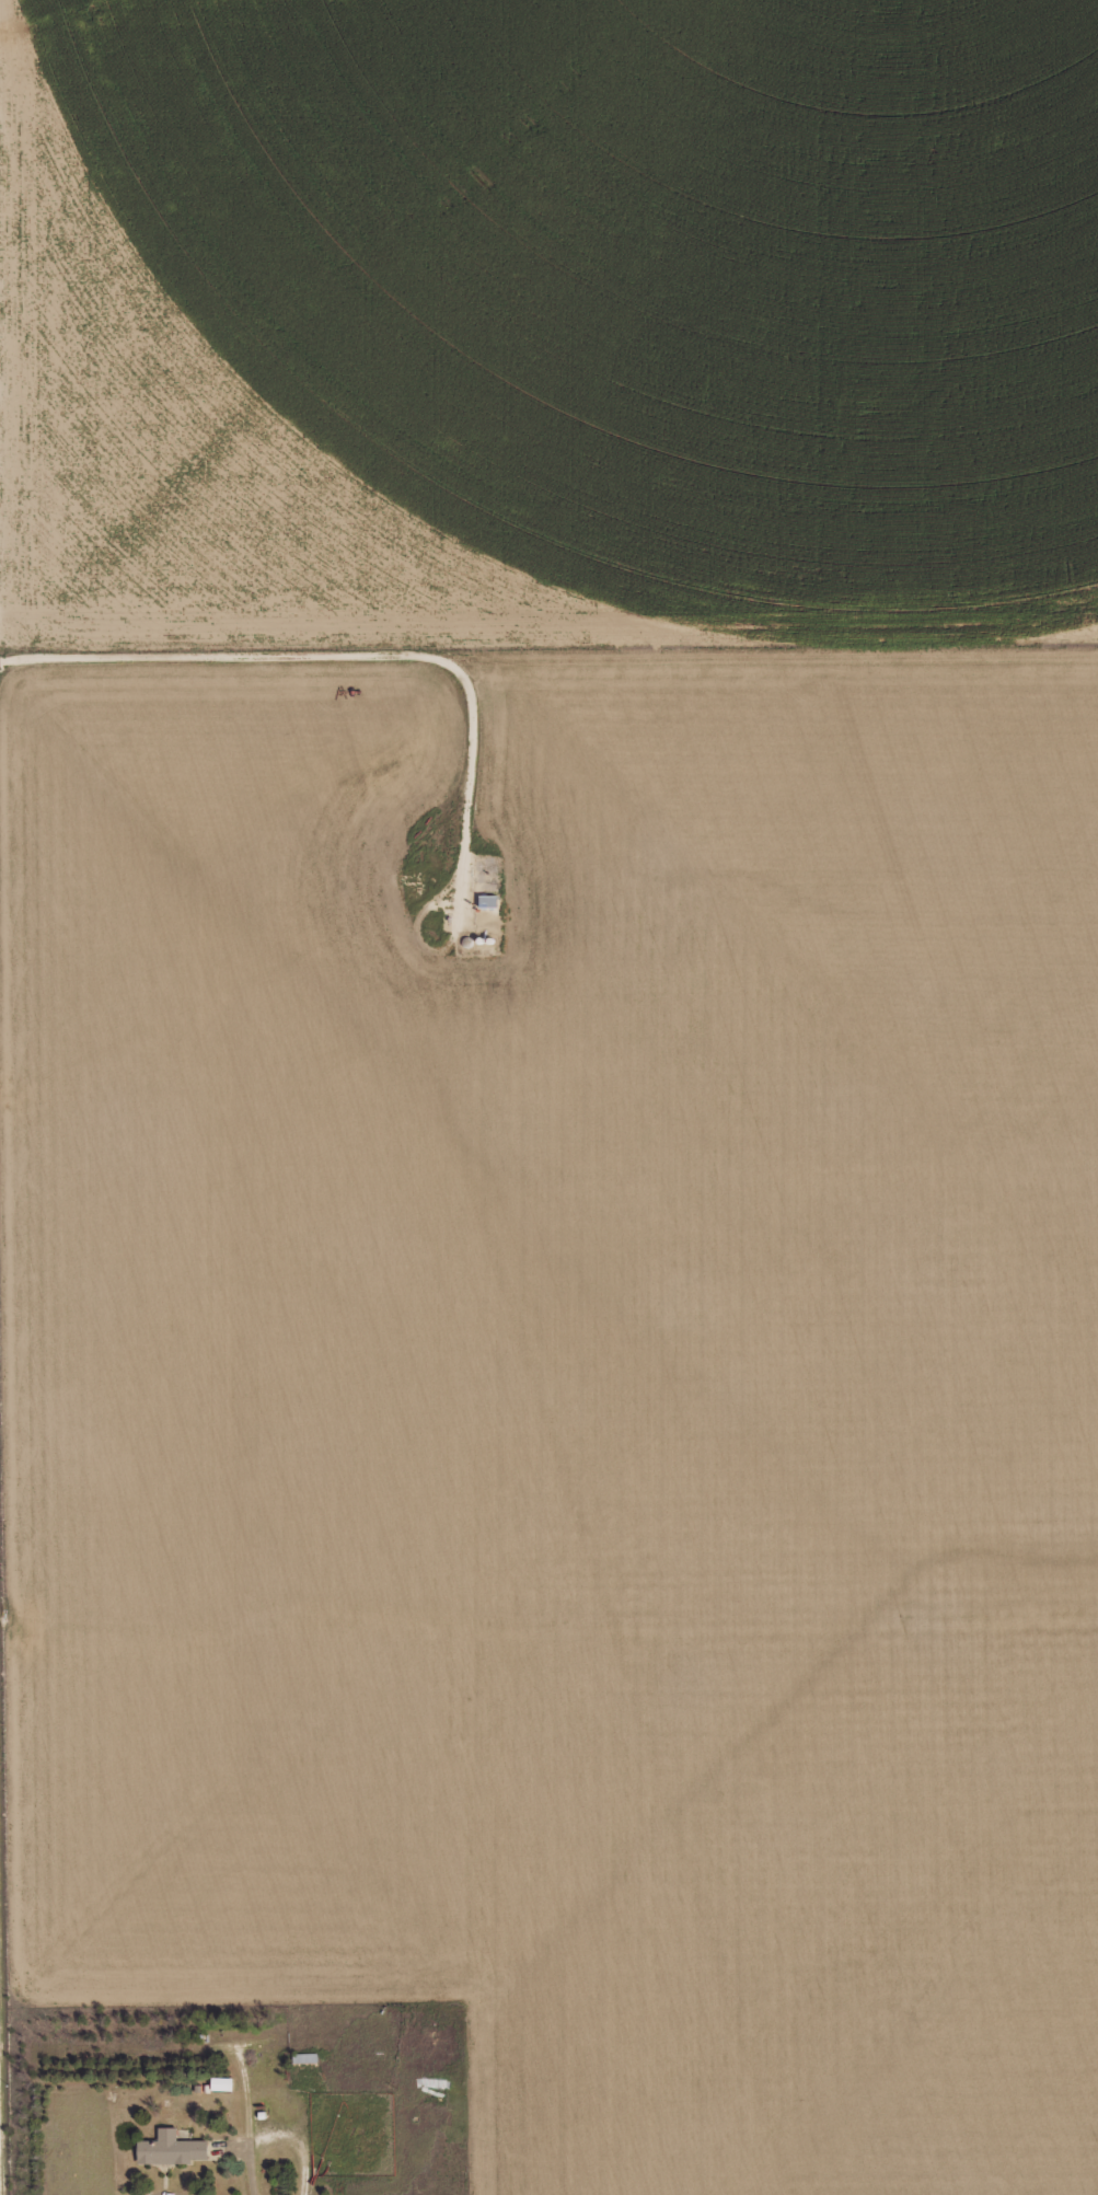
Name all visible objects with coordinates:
road: (548, 652)

